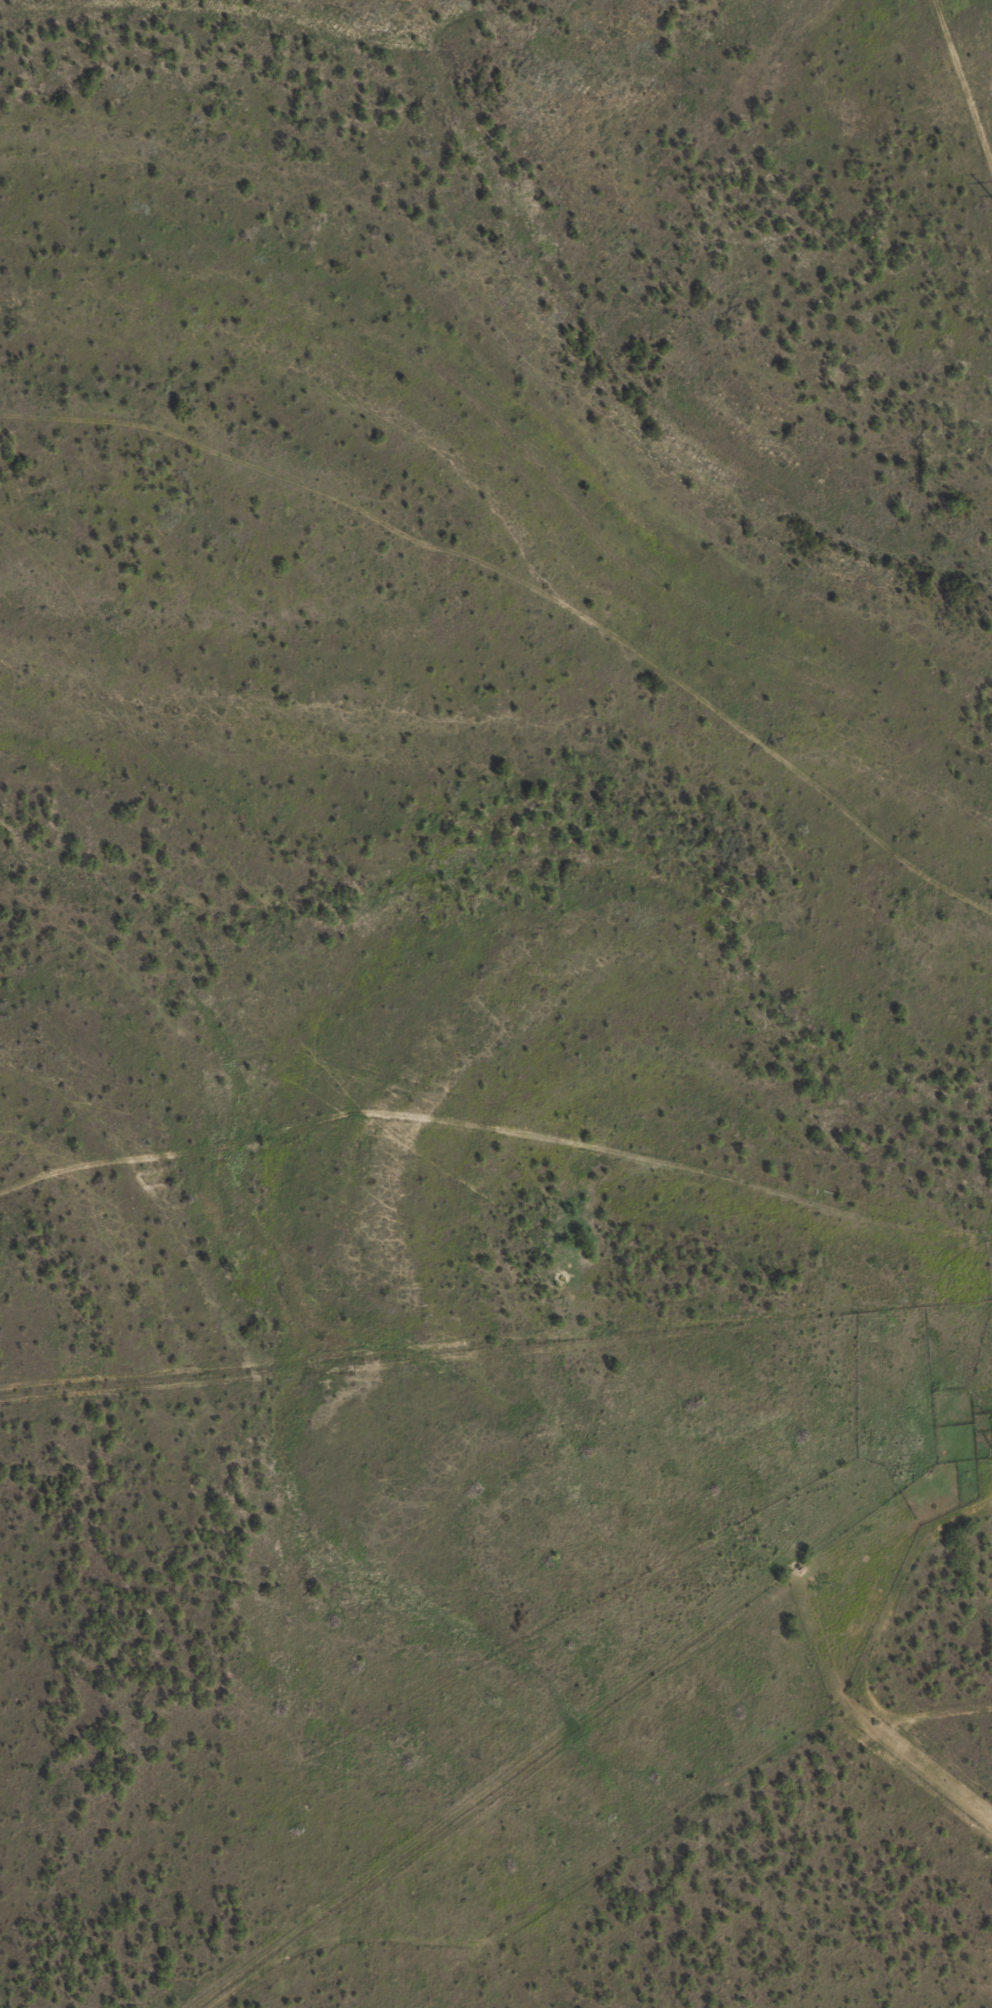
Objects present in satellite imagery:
road: (969, 90)
road: (496, 1162)

